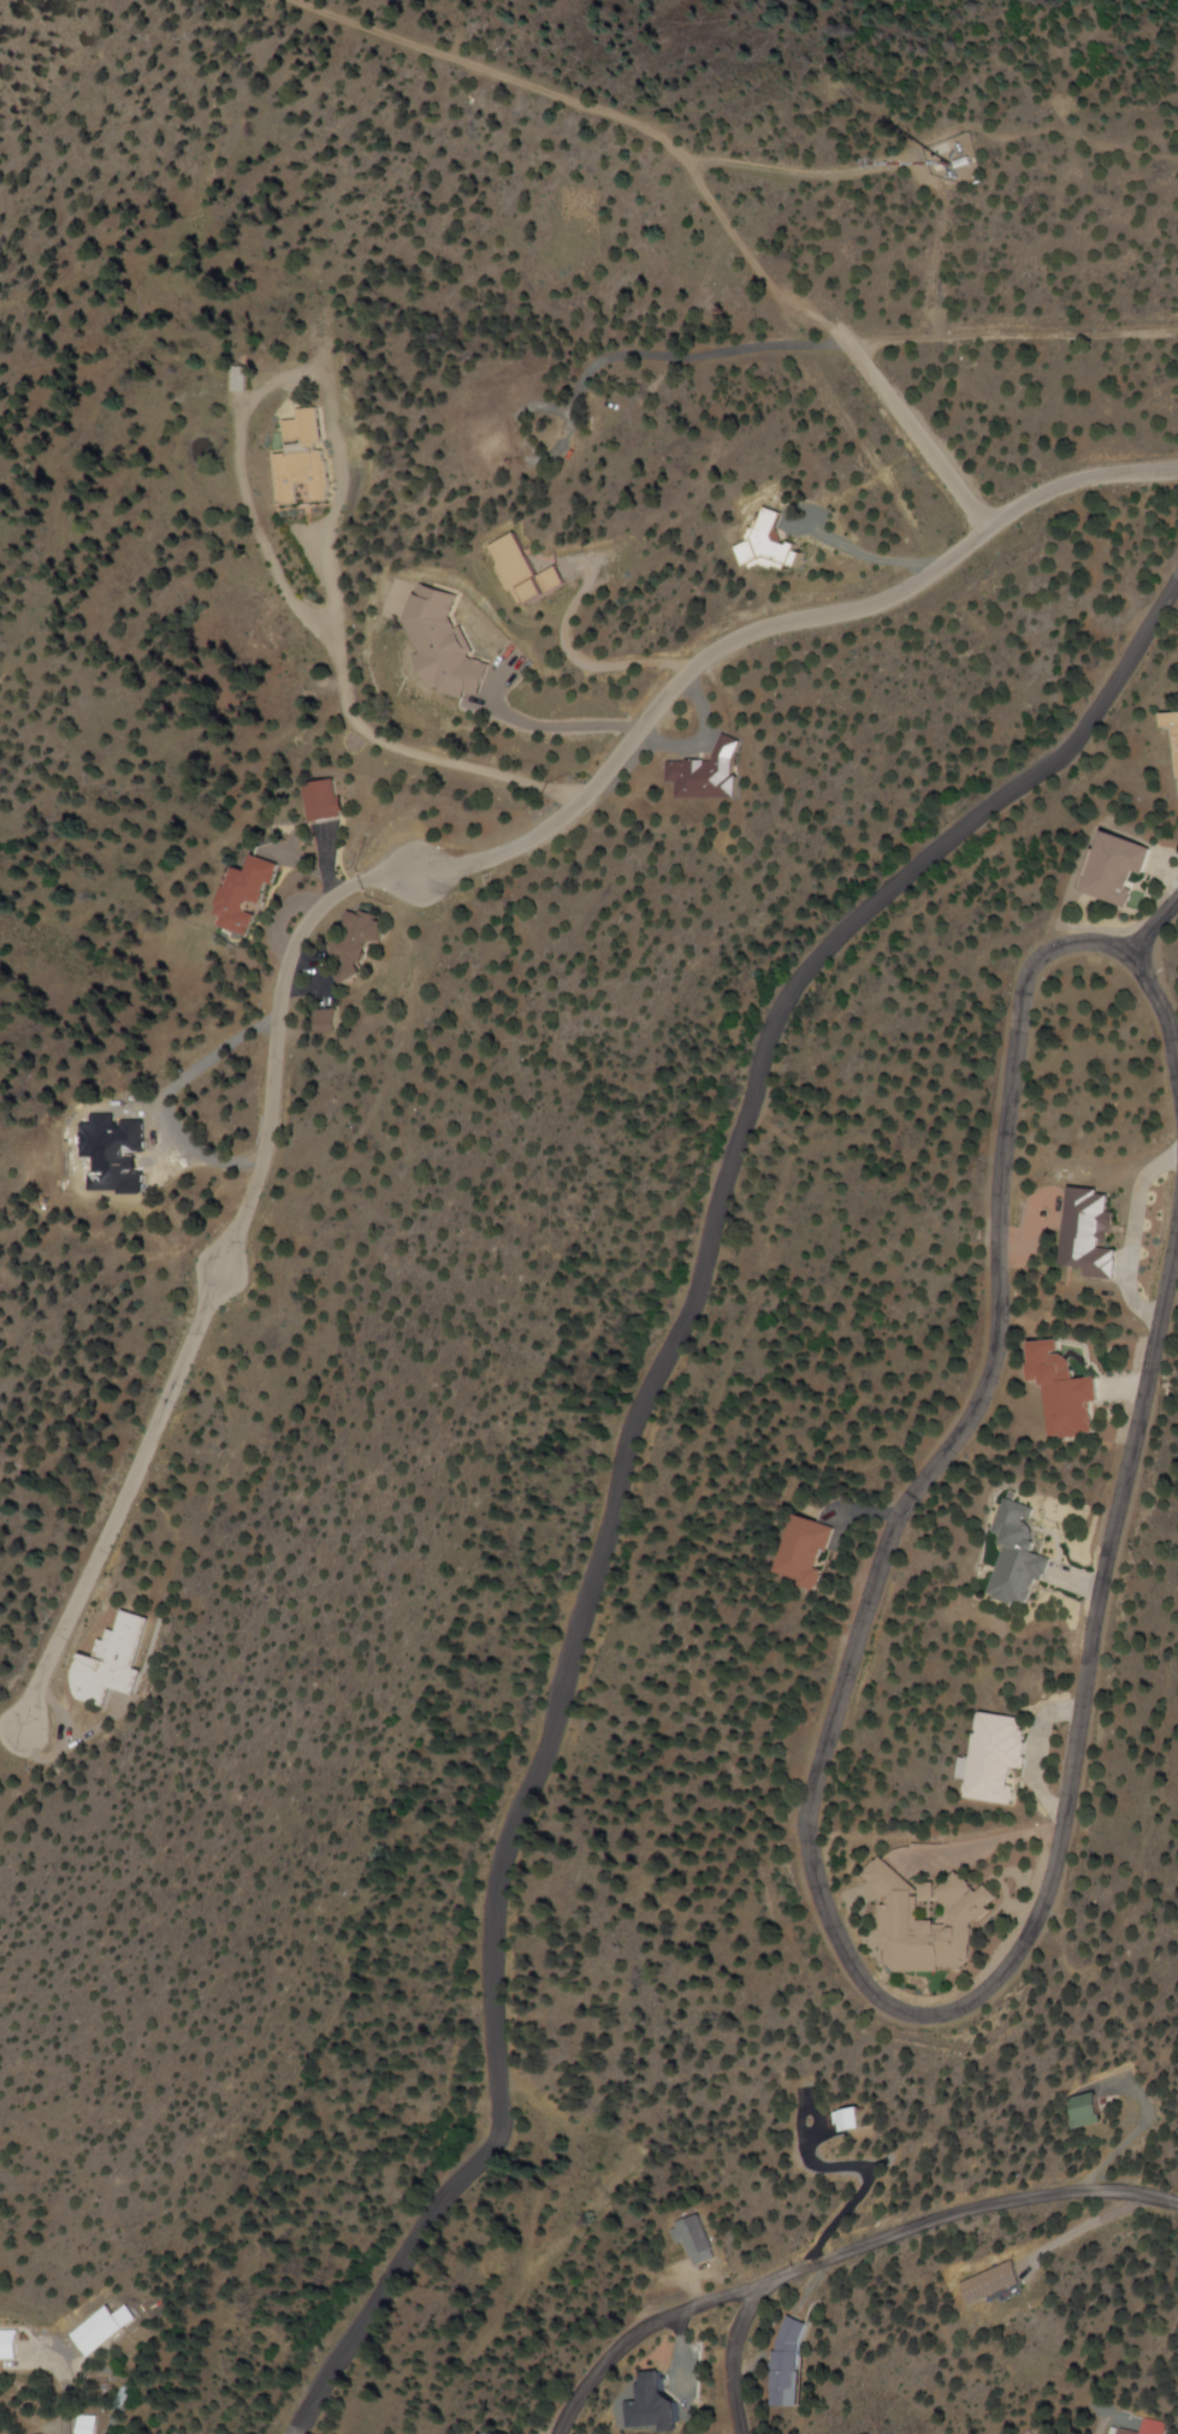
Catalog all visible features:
road: (702, 186)
building: (303, 461)
road: (1078, 482)
building: (528, 574)
road: (1124, 653)
building: (1174, 719)
building: (1121, 869)
building: (249, 896)
road: (1153, 926)
building: (361, 932)
road: (294, 944)
road: (1161, 1013)
building: (331, 1020)
building: (1095, 1233)
building: (1069, 1390)
road: (598, 1546)
building: (807, 1551)
building: (1018, 1556)
building: (119, 1663)
building: (994, 1759)
road: (811, 1867)
building: (930, 1920)
building: (1095, 2112)
building: (863, 2121)
road: (960, 2213)
building: (698, 2243)
building: (990, 2285)
road: (709, 2308)
building: (8, 2345)
building: (795, 2364)
road: (52, 2418)

